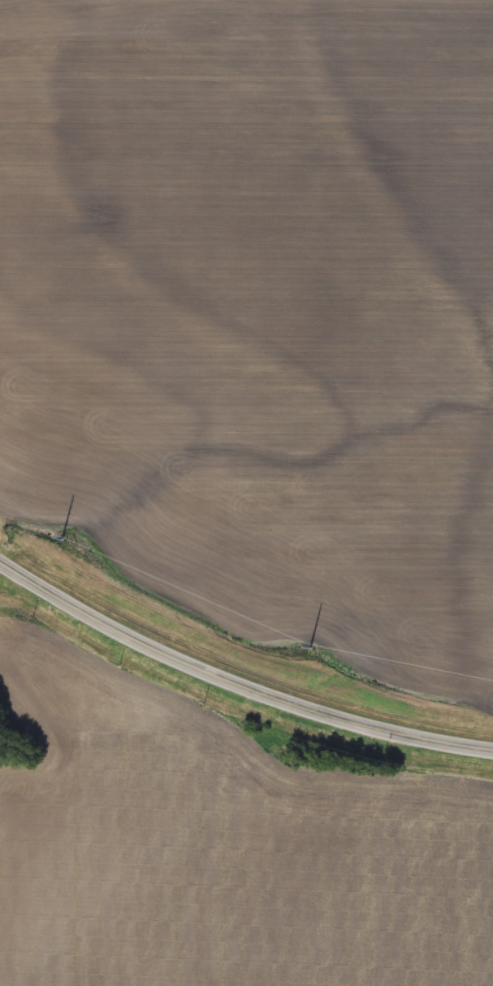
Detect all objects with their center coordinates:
road: (235, 681)

